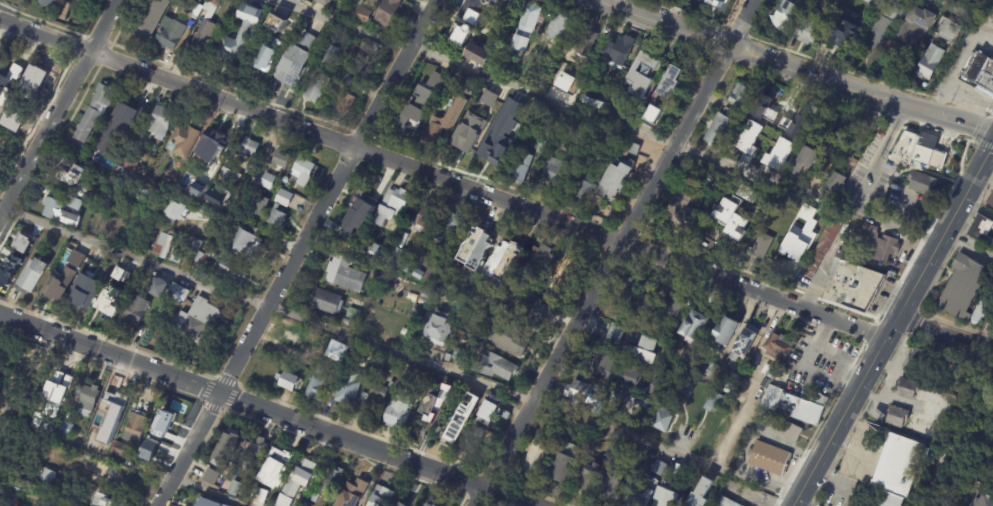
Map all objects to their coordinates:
building: (200, 0)
building: (377, 0)
building: (963, 0)
building: (373, 1)
building: (50, 2)
building: (816, 2)
building: (870, 2)
building: (322, 3)
building: (483, 4)
building: (715, 4)
building: (891, 10)
road: (960, 11)
building: (170, 13)
building: (387, 13)
building: (192, 15)
building: (360, 15)
building: (471, 15)
building: (783, 16)
road: (742, 17)
road: (659, 20)
building: (277, 23)
building: (527, 25)
building: (205, 26)
building: (558, 26)
building: (913, 27)
building: (140, 28)
building: (807, 29)
building: (843, 29)
building: (946, 30)
building: (169, 33)
building: (460, 34)
building: (877, 34)
building: (305, 41)
building: (584, 41)
building: (234, 42)
building: (350, 46)
road: (717, 46)
building: (620, 51)
building: (360, 52)
building: (474, 55)
road: (964, 55)
building: (329, 56)
building: (262, 58)
building: (555, 61)
building: (929, 62)
building: (291, 66)
building: (11, 69)
building: (979, 71)
building: (504, 72)
building: (38, 79)
building: (637, 80)
building: (567, 82)
building: (428, 87)
building: (315, 88)
building: (464, 88)
building: (448, 90)
road: (864, 90)
building: (483, 91)
building: (663, 94)
road: (951, 94)
building: (739, 96)
building: (487, 97)
building: (342, 102)
road: (58, 106)
building: (94, 112)
building: (129, 113)
building: (451, 118)
road: (604, 120)
building: (800, 121)
building: (158, 123)
building: (505, 124)
building: (405, 126)
building: (717, 130)
building: (430, 133)
building: (107, 134)
building: (459, 139)
building: (612, 139)
building: (183, 141)
building: (209, 145)
building: (606, 145)
building: (249, 147)
building: (540, 147)
building: (631, 149)
building: (920, 151)
building: (484, 152)
building: (279, 160)
building: (601, 161)
building: (799, 164)
building: (128, 166)
building: (519, 168)
building: (301, 171)
building: (232, 172)
building: (553, 172)
building: (66, 176)
road: (442, 178)
building: (614, 180)
building: (267, 182)
building: (199, 183)
building: (833, 183)
building: (920, 183)
building: (579, 184)
building: (165, 187)
building: (219, 191)
building: (281, 198)
building: (990, 200)
building: (361, 203)
building: (74, 204)
road: (853, 204)
building: (259, 207)
building: (391, 207)
building: (50, 208)
building: (174, 209)
building: (680, 212)
building: (276, 218)
building: (344, 218)
building: (731, 218)
building: (425, 219)
building: (820, 219)
building: (752, 220)
building: (817, 226)
building: (980, 230)
building: (450, 231)
building: (725, 231)
building: (21, 236)
building: (804, 240)
building: (245, 243)
building: (824, 243)
building: (880, 244)
building: (162, 245)
building: (192, 245)
road: (967, 246)
building: (210, 248)
building: (475, 249)
building: (758, 250)
building: (371, 251)
road: (300, 255)
building: (64, 256)
building: (76, 258)
building: (399, 260)
building: (541, 260)
building: (203, 261)
building: (502, 262)
building: (787, 262)
building: (566, 266)
building: (108, 269)
building: (230, 271)
building: (417, 274)
building: (344, 275)
building: (31, 276)
road: (601, 280)
building: (853, 285)
building: (3, 287)
building: (158, 287)
building: (53, 290)
building: (964, 290)
building: (83, 292)
building: (624, 292)
building: (175, 294)
building: (423, 295)
building: (434, 297)
building: (107, 301)
building: (323, 301)
building: (560, 303)
building: (154, 307)
building: (640, 307)
building: (670, 307)
building: (134, 310)
building: (505, 311)
building: (540, 311)
building: (350, 314)
building: (615, 316)
building: (331, 319)
building: (197, 320)
building: (345, 321)
road: (892, 324)
building: (693, 326)
building: (435, 328)
road: (945, 330)
road: (987, 330)
building: (724, 332)
building: (404, 333)
building: (613, 334)
building: (507, 335)
building: (293, 340)
building: (743, 343)
building: (777, 347)
building: (337, 351)
building: (643, 351)
road: (398, 352)
building: (318, 353)
building: (280, 354)
building: (455, 356)
building: (918, 357)
building: (305, 361)
building: (684, 364)
building: (492, 367)
building: (707, 369)
building: (615, 372)
road: (26, 377)
building: (672, 379)
building: (729, 380)
building: (65, 381)
building: (285, 382)
building: (390, 385)
building: (313, 387)
building: (418, 388)
building: (609, 390)
building: (908, 390)
building: (653, 391)
building: (681, 391)
building: (346, 392)
building: (577, 393)
building: (89, 398)
building: (373, 399)
building: (713, 403)
building: (794, 403)
building: (436, 404)
building: (114, 408)
building: (487, 409)
road: (263, 410)
building: (396, 410)
building: (590, 412)
building: (503, 415)
building: (896, 416)
building: (168, 420)
building: (459, 420)
building: (660, 421)
building: (138, 427)
building: (68, 429)
building: (918, 429)
building: (788, 430)
building: (468, 439)
building: (95, 440)
building: (123, 450)
building: (225, 450)
building: (609, 451)
building: (145, 453)
building: (253, 453)
building: (924, 456)
building: (769, 459)
building: (532, 461)
building: (560, 468)
building: (272, 469)
building: (658, 469)
building: (895, 470)
building: (112, 474)
building: (47, 475)
building: (588, 475)
building: (209, 477)
building: (231, 480)
building: (296, 482)
building: (327, 485)
building: (615, 486)
building: (21, 488)
road: (213, 491)
building: (640, 492)
building: (351, 494)
building: (699, 494)
building: (256, 496)
building: (379, 497)
building: (664, 498)
building: (113, 500)
building: (414, 500)
building: (981, 501)
building: (208, 502)
building: (430, 502)
building: (723, 502)
building: (400, 504)
building: (819, 504)
building: (195, 505)

